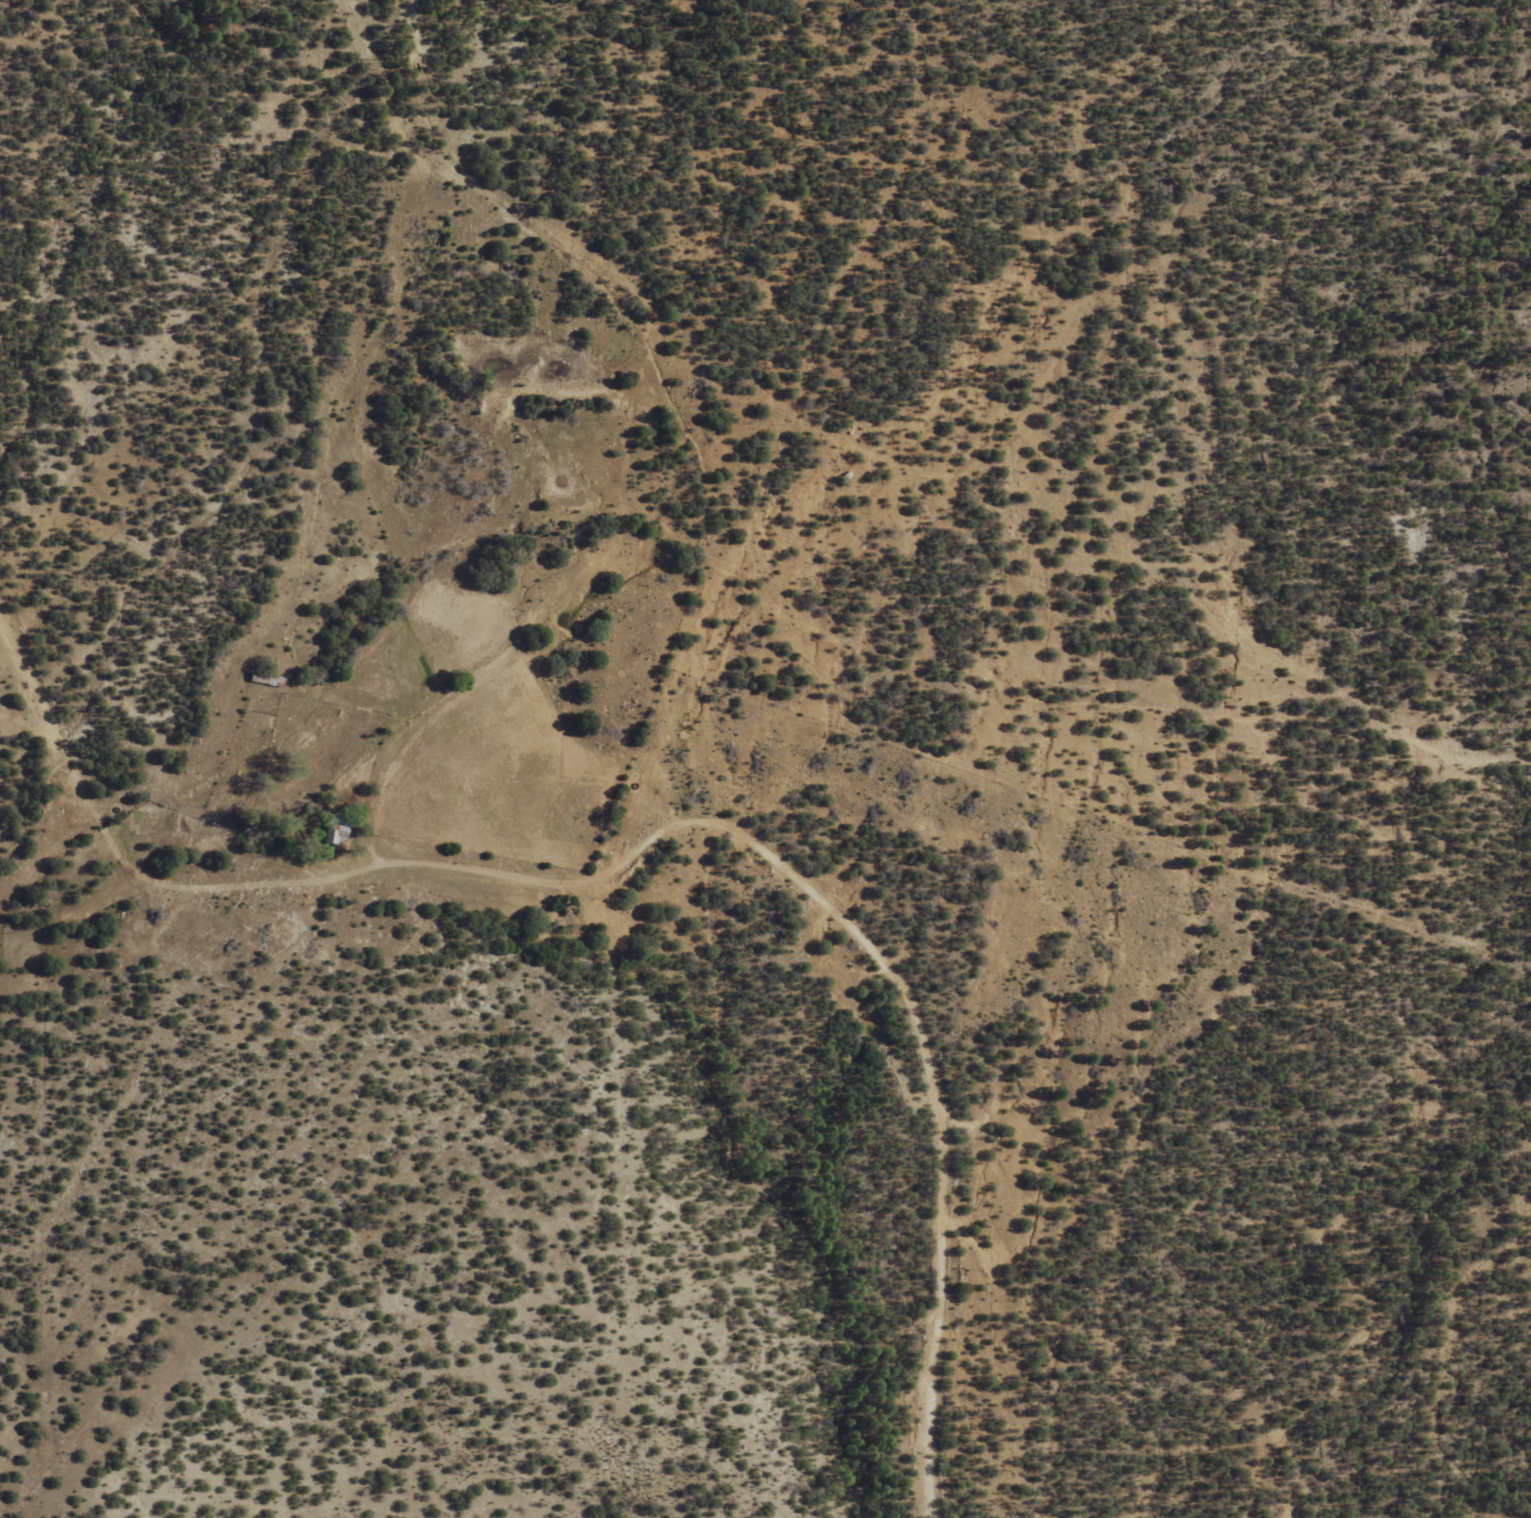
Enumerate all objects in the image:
building: (269, 679)
building: (341, 829)
road: (658, 832)

